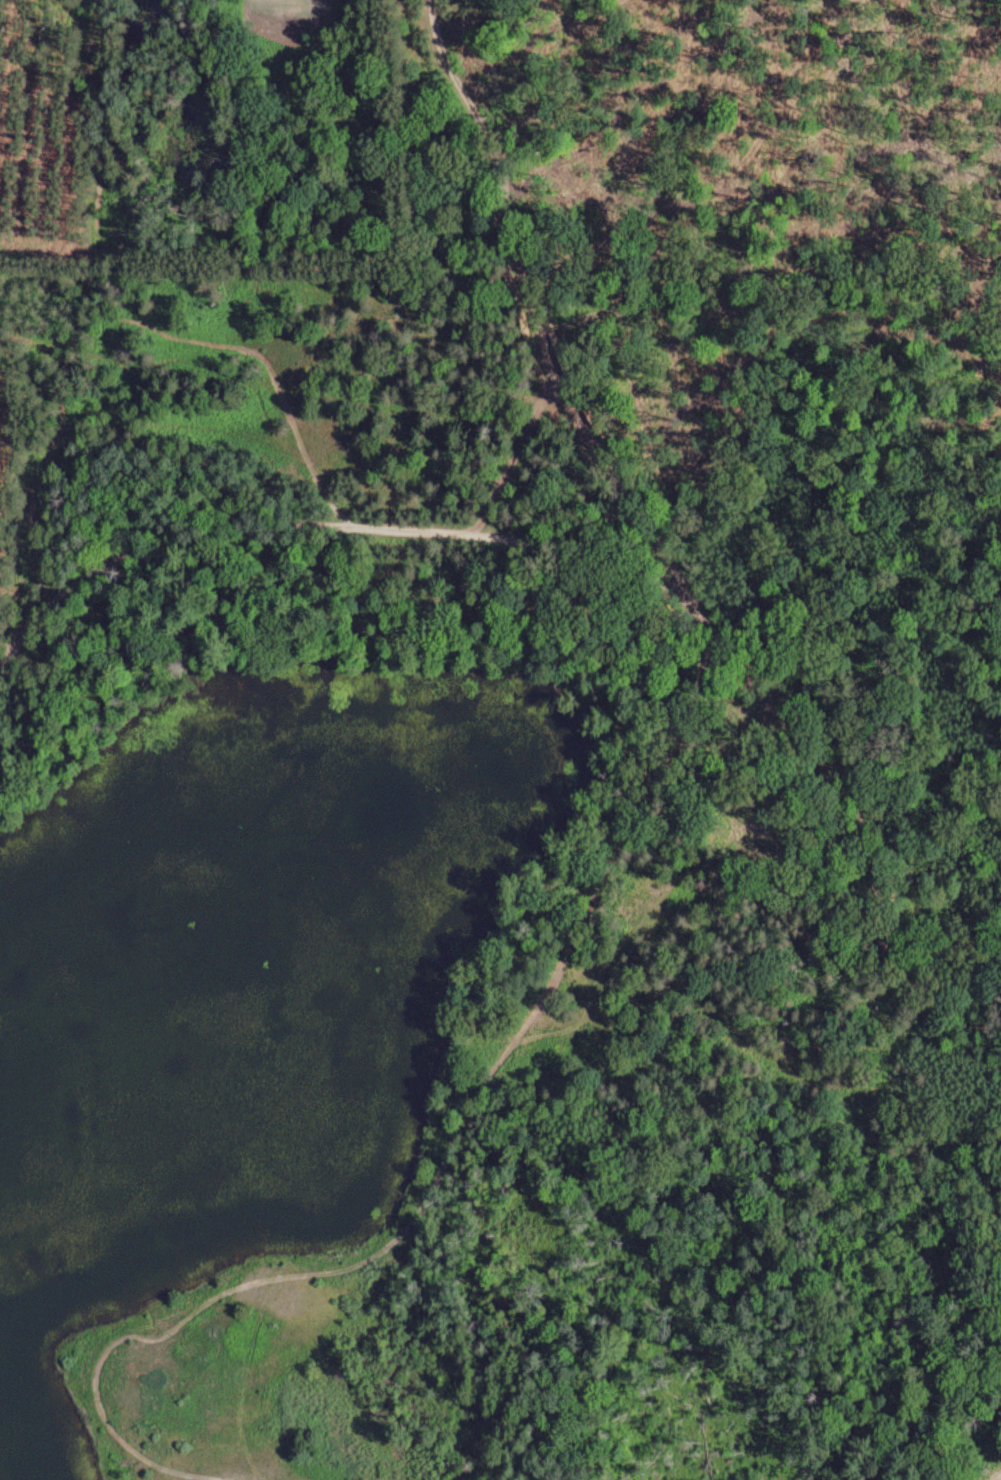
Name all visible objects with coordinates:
road: (256, 525)

